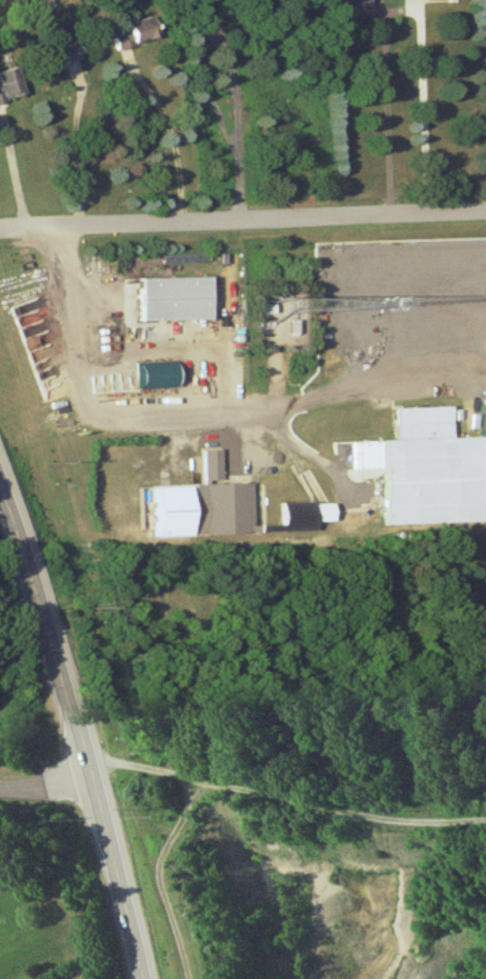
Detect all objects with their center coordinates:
building: (444, 0)
building: (349, 5)
road: (404, 14)
building: (128, 36)
building: (53, 62)
building: (8, 88)
building: (141, 118)
road: (227, 125)
road: (176, 135)
road: (78, 150)
road: (17, 169)
road: (242, 221)
building: (168, 303)
road: (203, 412)
building: (426, 475)
building: (484, 475)
building: (223, 505)
building: (169, 515)
building: (305, 519)
road: (77, 732)
road: (44, 786)
road: (285, 801)
road: (157, 875)

